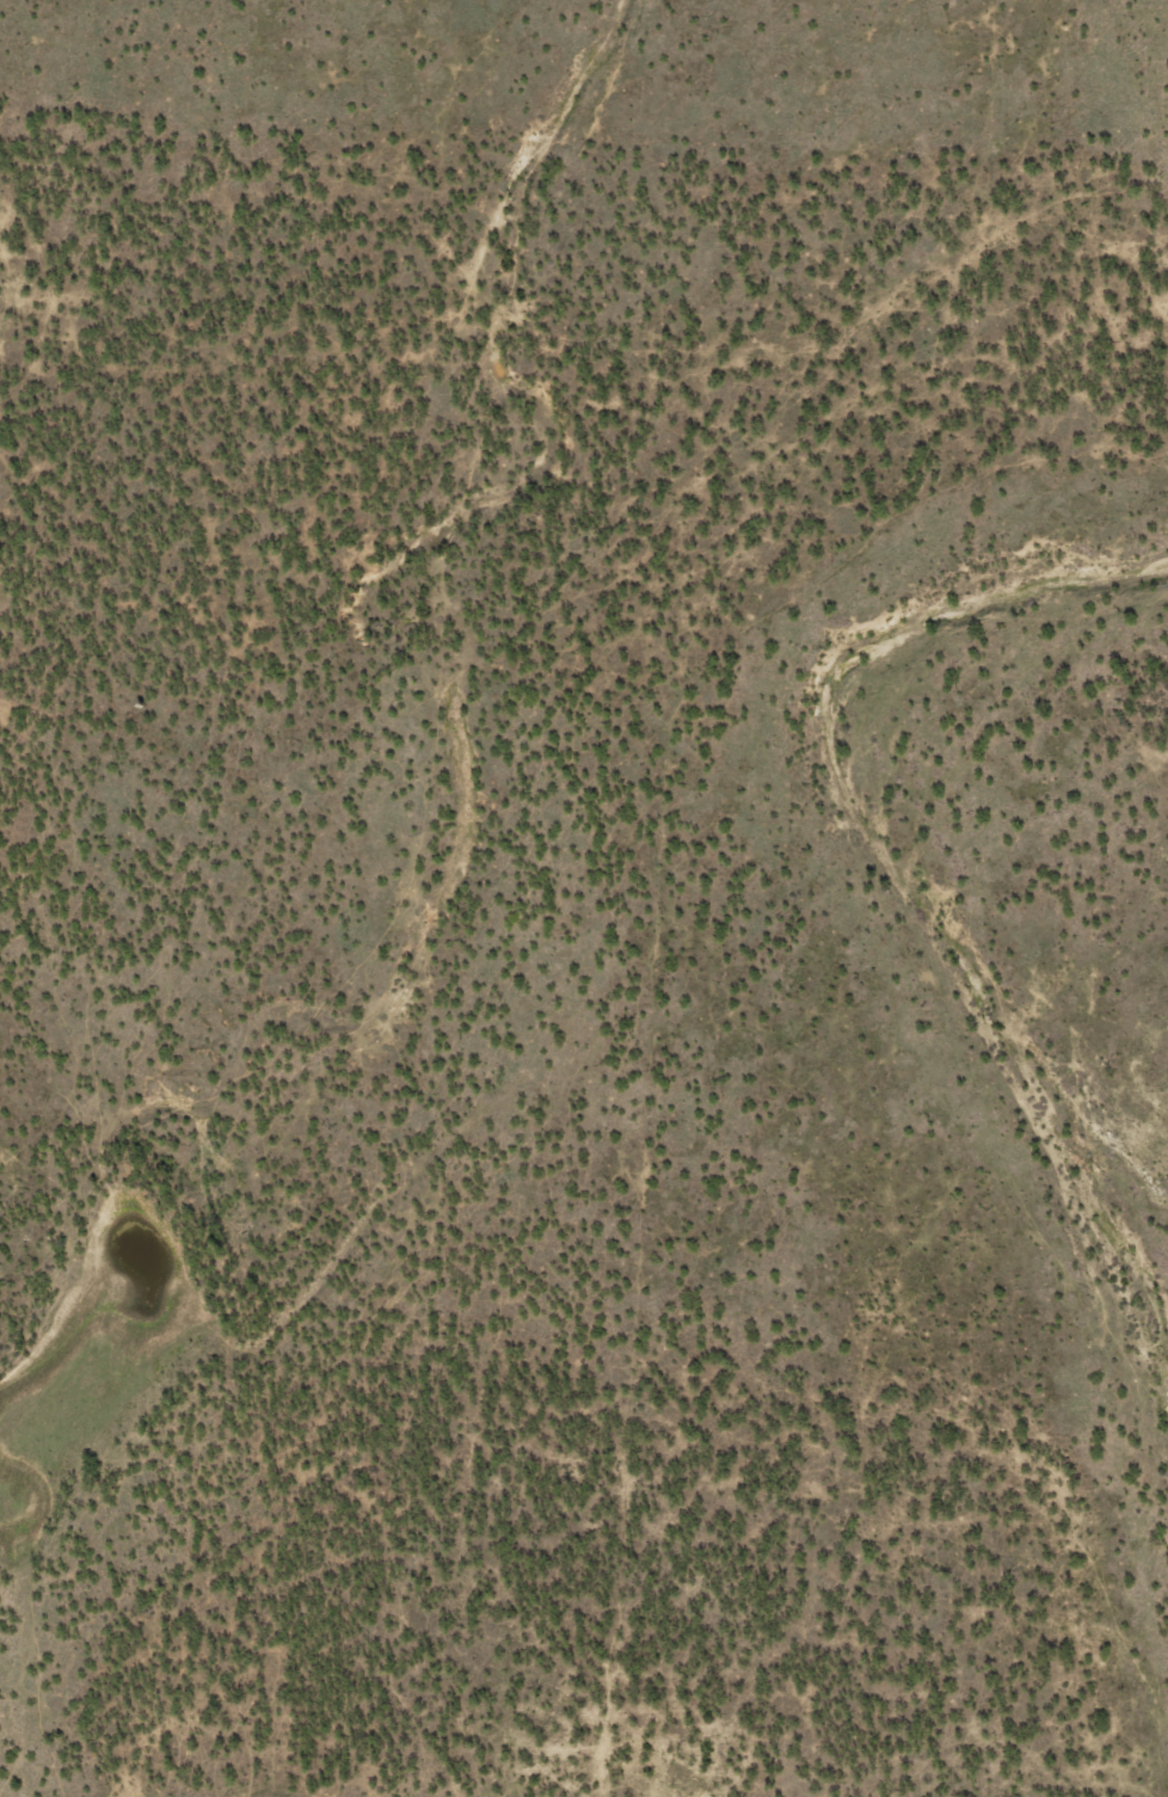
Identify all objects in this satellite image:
road: (20, 1267)

